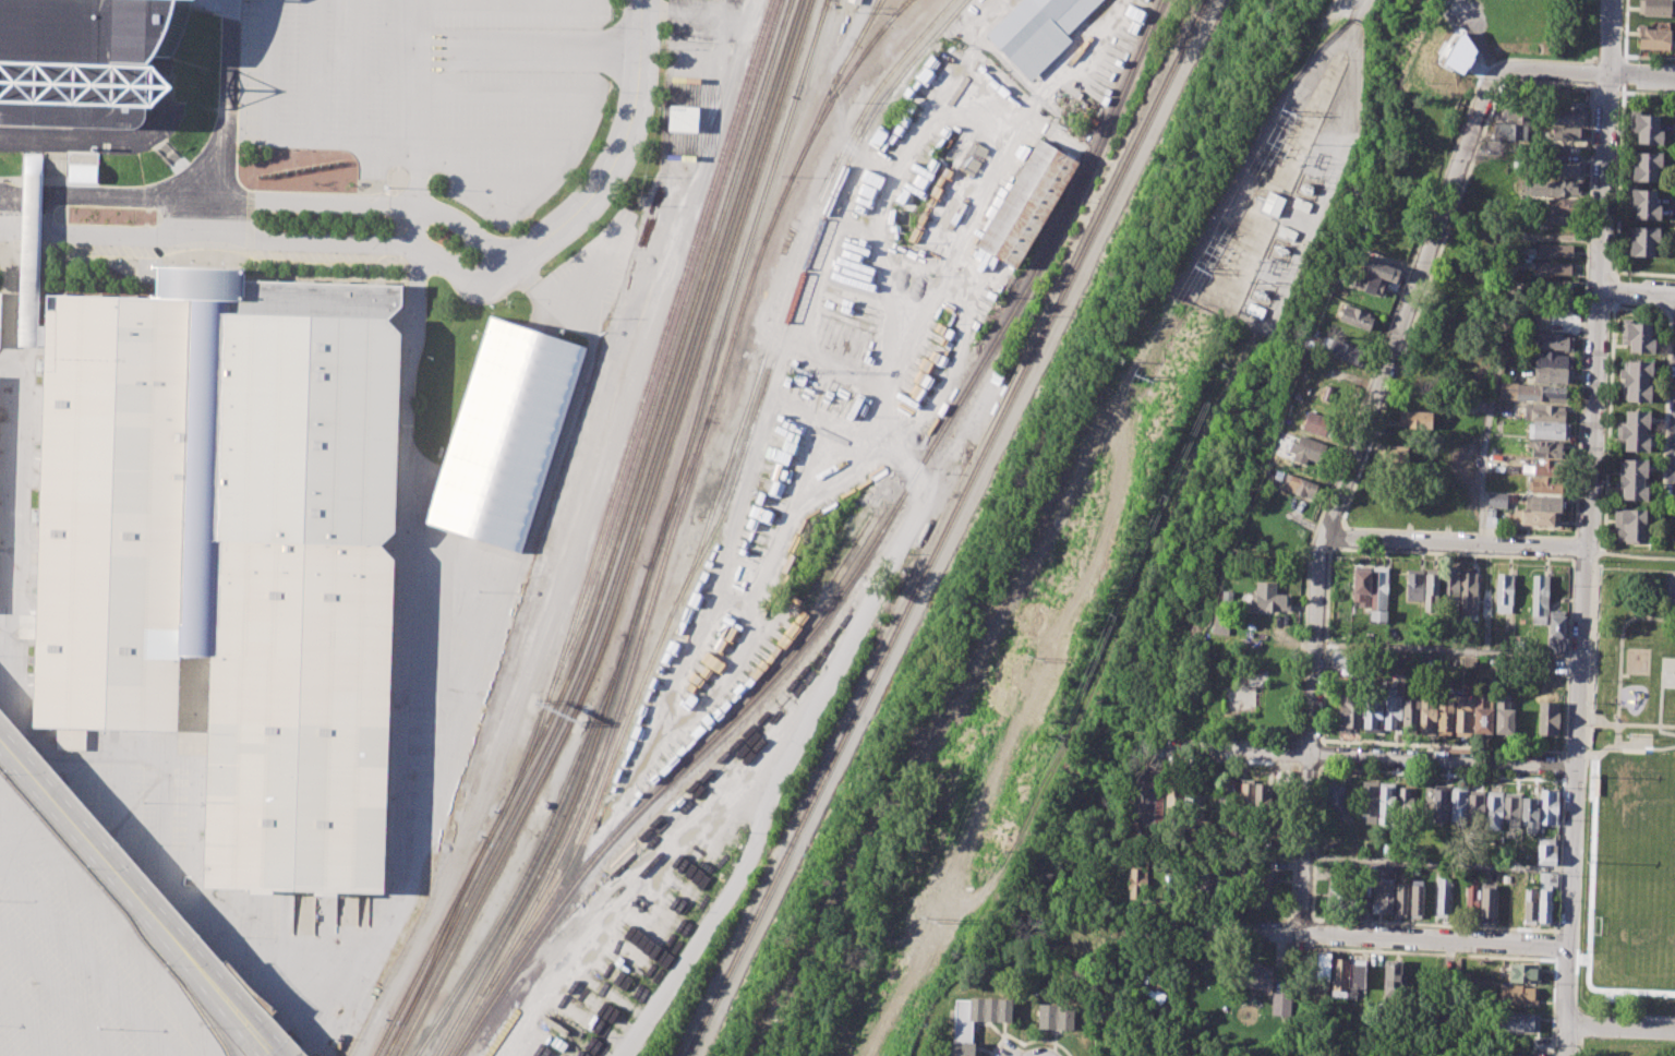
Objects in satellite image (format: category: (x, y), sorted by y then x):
building: (855, 1)
road: (507, 4)
building: (1658, 7)
railway: (902, 9)
road: (1359, 11)
road: (697, 14)
road: (411, 15)
railway: (869, 23)
road: (1625, 29)
building: (1038, 31)
road: (417, 32)
building: (1653, 38)
road: (450, 41)
road: (446, 51)
building: (1460, 55)
building: (85, 60)
stadium: (85, 60)
road: (434, 62)
road: (455, 63)
road: (314, 70)
road: (357, 70)
road: (1624, 71)
road: (171, 72)
road: (1641, 73)
railway: (843, 85)
parking lot: (434, 88)
railway: (832, 88)
power tower: (1290, 112)
building: (1566, 116)
building: (683, 118)
road: (226, 119)
building: (1647, 129)
building: (1511, 132)
building: (1565, 133)
road: (495, 134)
road: (99, 144)
road: (185, 153)
building: (974, 157)
road: (1004, 163)
building: (82, 166)
building: (1644, 166)
building: (1563, 169)
road: (606, 173)
road: (408, 178)
road: (474, 180)
road: (1618, 181)
building: (1553, 188)
power substation: (1277, 192)
road: (9, 197)
road: (280, 199)
building: (1272, 204)
building: (1646, 204)
building: (1031, 205)
building: (1562, 211)
road: (8, 225)
road: (1478, 237)
road: (263, 239)
building: (1642, 241)
building: (1553, 250)
building: (1674, 250)
building: (31, 251)
road: (1426, 252)
building: (1552, 268)
building: (1379, 269)
power tower: (1204, 271)
railway: (736, 284)
building: (1371, 285)
building: (1552, 286)
railway: (798, 288)
building: (0, 292)
road: (1613, 292)
road: (1636, 292)
railway: (743, 298)
building: (1553, 305)
building: (1357, 317)
building: (1637, 336)
building: (1552, 340)
building: (1345, 350)
road: (1501, 350)
railway: (667, 351)
building: (1551, 359)
building: (1553, 375)
power tower: (1140, 376)
building: (1637, 381)
building: (1505, 391)
building: (1541, 393)
railway: (638, 408)
building: (1544, 411)
building: (1414, 419)
building: (1319, 424)
building: (1549, 430)
building: (1636, 431)
building: (506, 434)
railway: (935, 442)
building: (1547, 448)
building: (1308, 449)
parking lot: (1671, 451)
building: (1390, 454)
road: (1606, 464)
building: (1549, 466)
road: (405, 468)
building: (1632, 480)
building: (1546, 484)
building: (1301, 487)
railway: (677, 494)
railway: (718, 496)
building: (1497, 500)
building: (1544, 503)
building: (111, 513)
building: (1490, 517)
building: (1539, 519)
building: (1629, 525)
railway: (948, 527)
road: (1586, 528)
road: (574, 535)
railway: (616, 541)
railway: (625, 541)
railway: (636, 541)
road: (1454, 542)
building: (291, 572)
road: (1673, 577)
road: (1671, 579)
building: (1670, 585)
building: (1413, 586)
building: (1360, 587)
building: (1431, 591)
building: (1449, 591)
building: (1379, 592)
building: (1468, 592)
building: (1503, 592)
building: (1539, 595)
building: (1226, 597)
building: (1267, 598)
road: (1668, 612)
building: (1219, 626)
building: (1557, 631)
road: (1313, 644)
road: (1446, 650)
power tower: (1031, 653)
building: (1339, 659)
park: (1667, 672)
road: (1618, 675)
building: (1391, 710)
building: (1462, 712)
building: (1482, 712)
building: (1372, 713)
building: (1503, 713)
building: (1348, 715)
building: (1409, 715)
building: (1426, 715)
building: (1444, 715)
road: (1659, 717)
building: (1546, 718)
road: (1596, 722)
road: (1616, 734)
road: (1623, 746)
railway: (603, 748)
road: (1233, 752)
street lamp: (35, 753)
road: (1442, 759)
road: (1596, 773)
street lamp: (3, 776)
road: (779, 781)
building: (1244, 795)
building: (1225, 796)
building: (1262, 796)
parking lot: (103, 799)
building: (1172, 799)
building: (1193, 800)
building: (1367, 801)
building: (1334, 802)
building: (1386, 802)
building: (1439, 803)
building: (1405, 804)
building: (1458, 805)
park: (1630, 805)
building: (1475, 806)
building: (1549, 806)
building: (1513, 808)
building: (1493, 809)
building: (1529, 813)
park: (1634, 816)
road: (22, 819)
railway: (564, 820)
road: (1305, 841)
street lamp: (118, 847)
railway: (534, 853)
building: (1544, 854)
road: (1437, 862)
street lamp: (86, 872)
building: (1543, 878)
building: (1138, 886)
building: (1266, 887)
building: (1529, 893)
building: (1337, 895)
building: (1443, 895)
building: (1471, 896)
road: (137, 897)
building: (1381, 897)
building: (1400, 897)
building: (1417, 897)
building: (1487, 902)
building: (1544, 907)
building: (1529, 910)
power tower: (921, 919)
road: (118, 929)
railway: (444, 932)
road: (1346, 932)
railway: (534, 937)
road: (373, 938)
street lamp: (200, 939)
park: (1664, 943)
road: (1425, 953)
road: (83, 960)
street lamp: (166, 968)
railway: (545, 969)
building: (1321, 971)
building: (1523, 972)
building: (1338, 974)
building: (1254, 975)
building: (1390, 977)
building: (1358, 981)
road: (56, 993)
road: (1443, 995)
building: (1517, 995)
road: (344, 997)
building: (1279, 1005)
building: (1056, 1017)
building: (976, 1020)
building: (1518, 1022)
road: (26, 1025)
road: (1619, 1027)
street lamp: (99, 1028)
street lamp: (208, 1028)
road: (237, 1032)
street lamp: (291, 1043)
road: (1576, 1049)
building: (1514, 1055)

